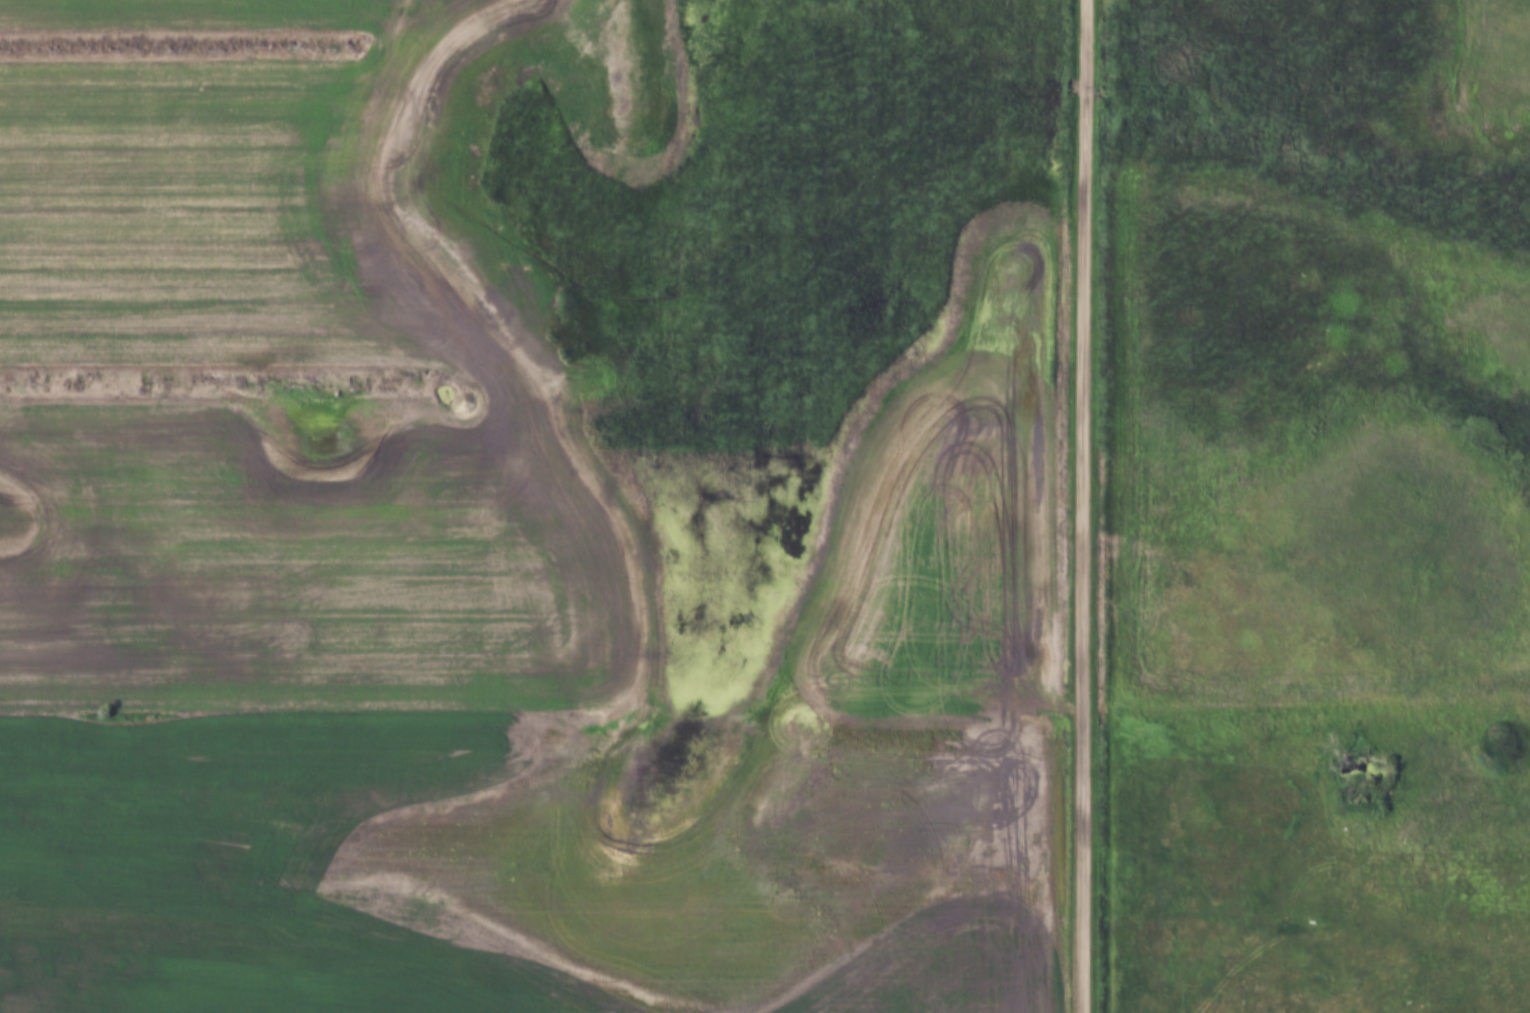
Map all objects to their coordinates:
road: (1081, 506)

